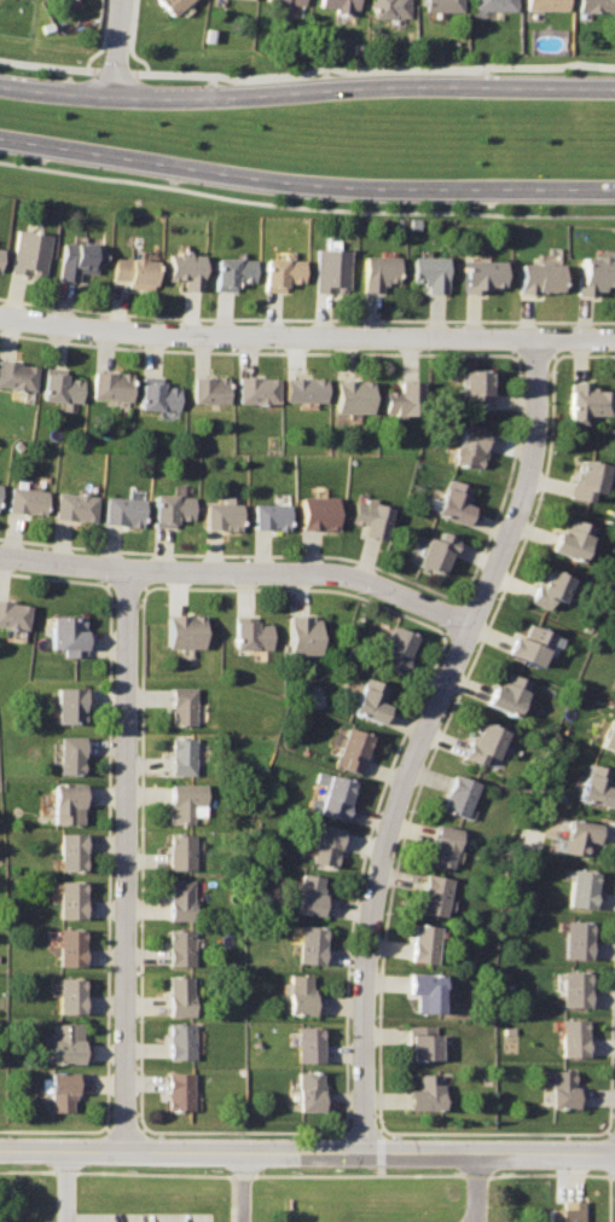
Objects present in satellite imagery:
building: (248, 0)
building: (289, 1)
building: (337, 4)
building: (173, 5)
building: (443, 5)
building: (494, 5)
building: (546, 6)
building: (596, 6)
building: (390, 8)
road: (120, 46)
road: (307, 69)
road: (307, 89)
road: (306, 183)
building: (29, 251)
building: (79, 259)
building: (332, 270)
building: (134, 271)
building: (186, 271)
building: (232, 271)
building: (381, 271)
building: (433, 271)
building: (282, 272)
building: (483, 273)
building: (597, 273)
building: (540, 276)
road: (307, 336)
building: (16, 375)
building: (111, 386)
building: (62, 387)
building: (480, 387)
building: (211, 388)
building: (307, 388)
building: (260, 389)
building: (355, 394)
building: (159, 395)
building: (407, 396)
building: (587, 401)
building: (471, 447)
building: (588, 479)
building: (27, 499)
building: (456, 500)
building: (75, 504)
building: (172, 508)
building: (123, 509)
building: (319, 511)
building: (222, 512)
building: (271, 514)
building: (372, 515)
building: (572, 538)
building: (437, 551)
road: (239, 571)
building: (550, 587)
building: (13, 614)
building: (184, 629)
building: (302, 632)
building: (68, 633)
building: (251, 633)
building: (529, 643)
building: (398, 648)
building: (507, 694)
building: (372, 699)
building: (69, 703)
building: (184, 705)
building: (609, 735)
road: (422, 737)
building: (485, 742)
building: (353, 749)
building: (70, 754)
building: (182, 755)
building: (597, 786)
building: (336, 794)
building: (460, 794)
building: (186, 800)
building: (68, 803)
building: (581, 834)
building: (326, 845)
building: (445, 845)
building: (70, 850)
building: (181, 850)
road: (126, 858)
building: (582, 887)
building: (434, 893)
building: (312, 897)
building: (70, 898)
building: (180, 899)
building: (576, 939)
building: (425, 943)
building: (311, 944)
building: (70, 946)
building: (181, 948)
building: (575, 989)
building: (427, 990)
building: (69, 994)
building: (180, 995)
building: (302, 996)
building: (573, 1037)
building: (65, 1041)
building: (180, 1041)
building: (424, 1041)
building: (308, 1042)
building: (62, 1089)
building: (564, 1089)
building: (178, 1090)
building: (309, 1090)
building: (427, 1091)
road: (307, 1151)
road: (65, 1186)
road: (243, 1186)
road: (476, 1186)
building: (564, 1211)
parking lot: (135, 1217)

